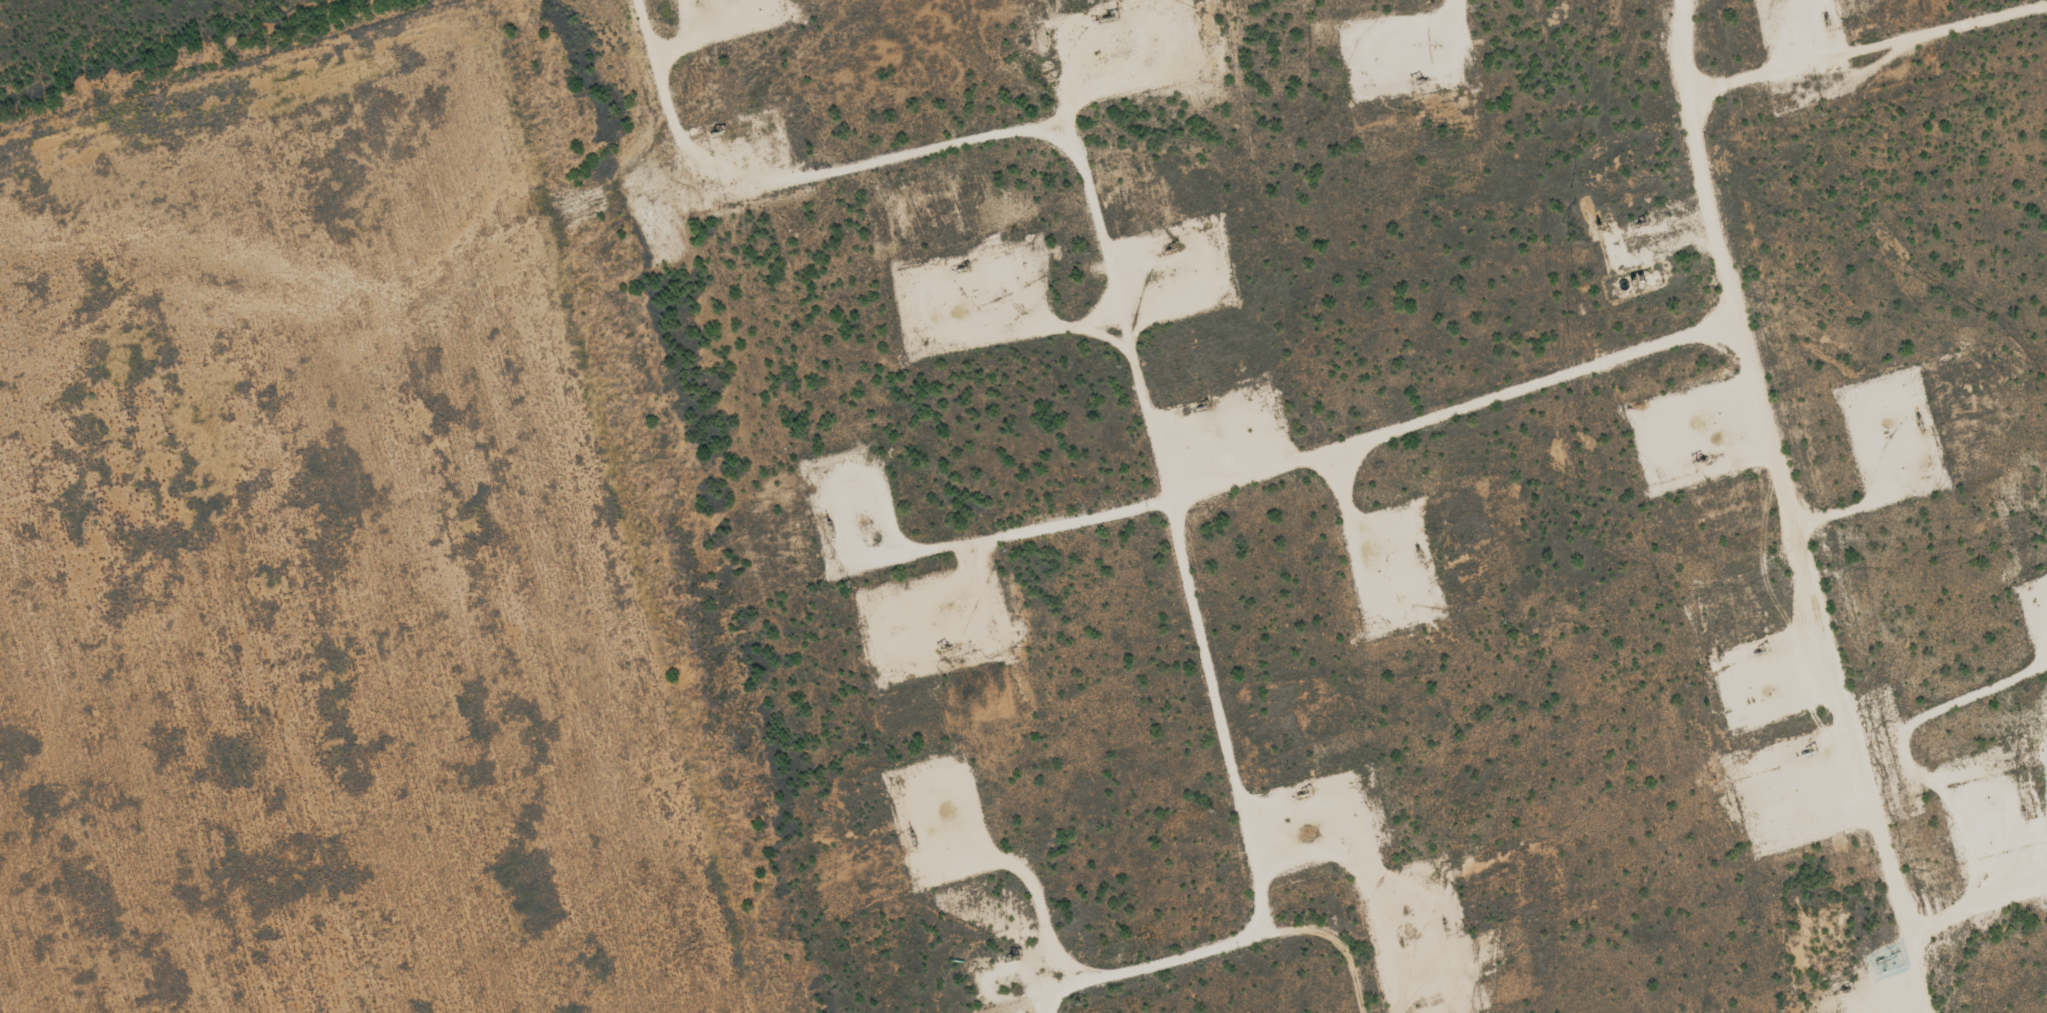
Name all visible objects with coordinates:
road: (1786, 509)

